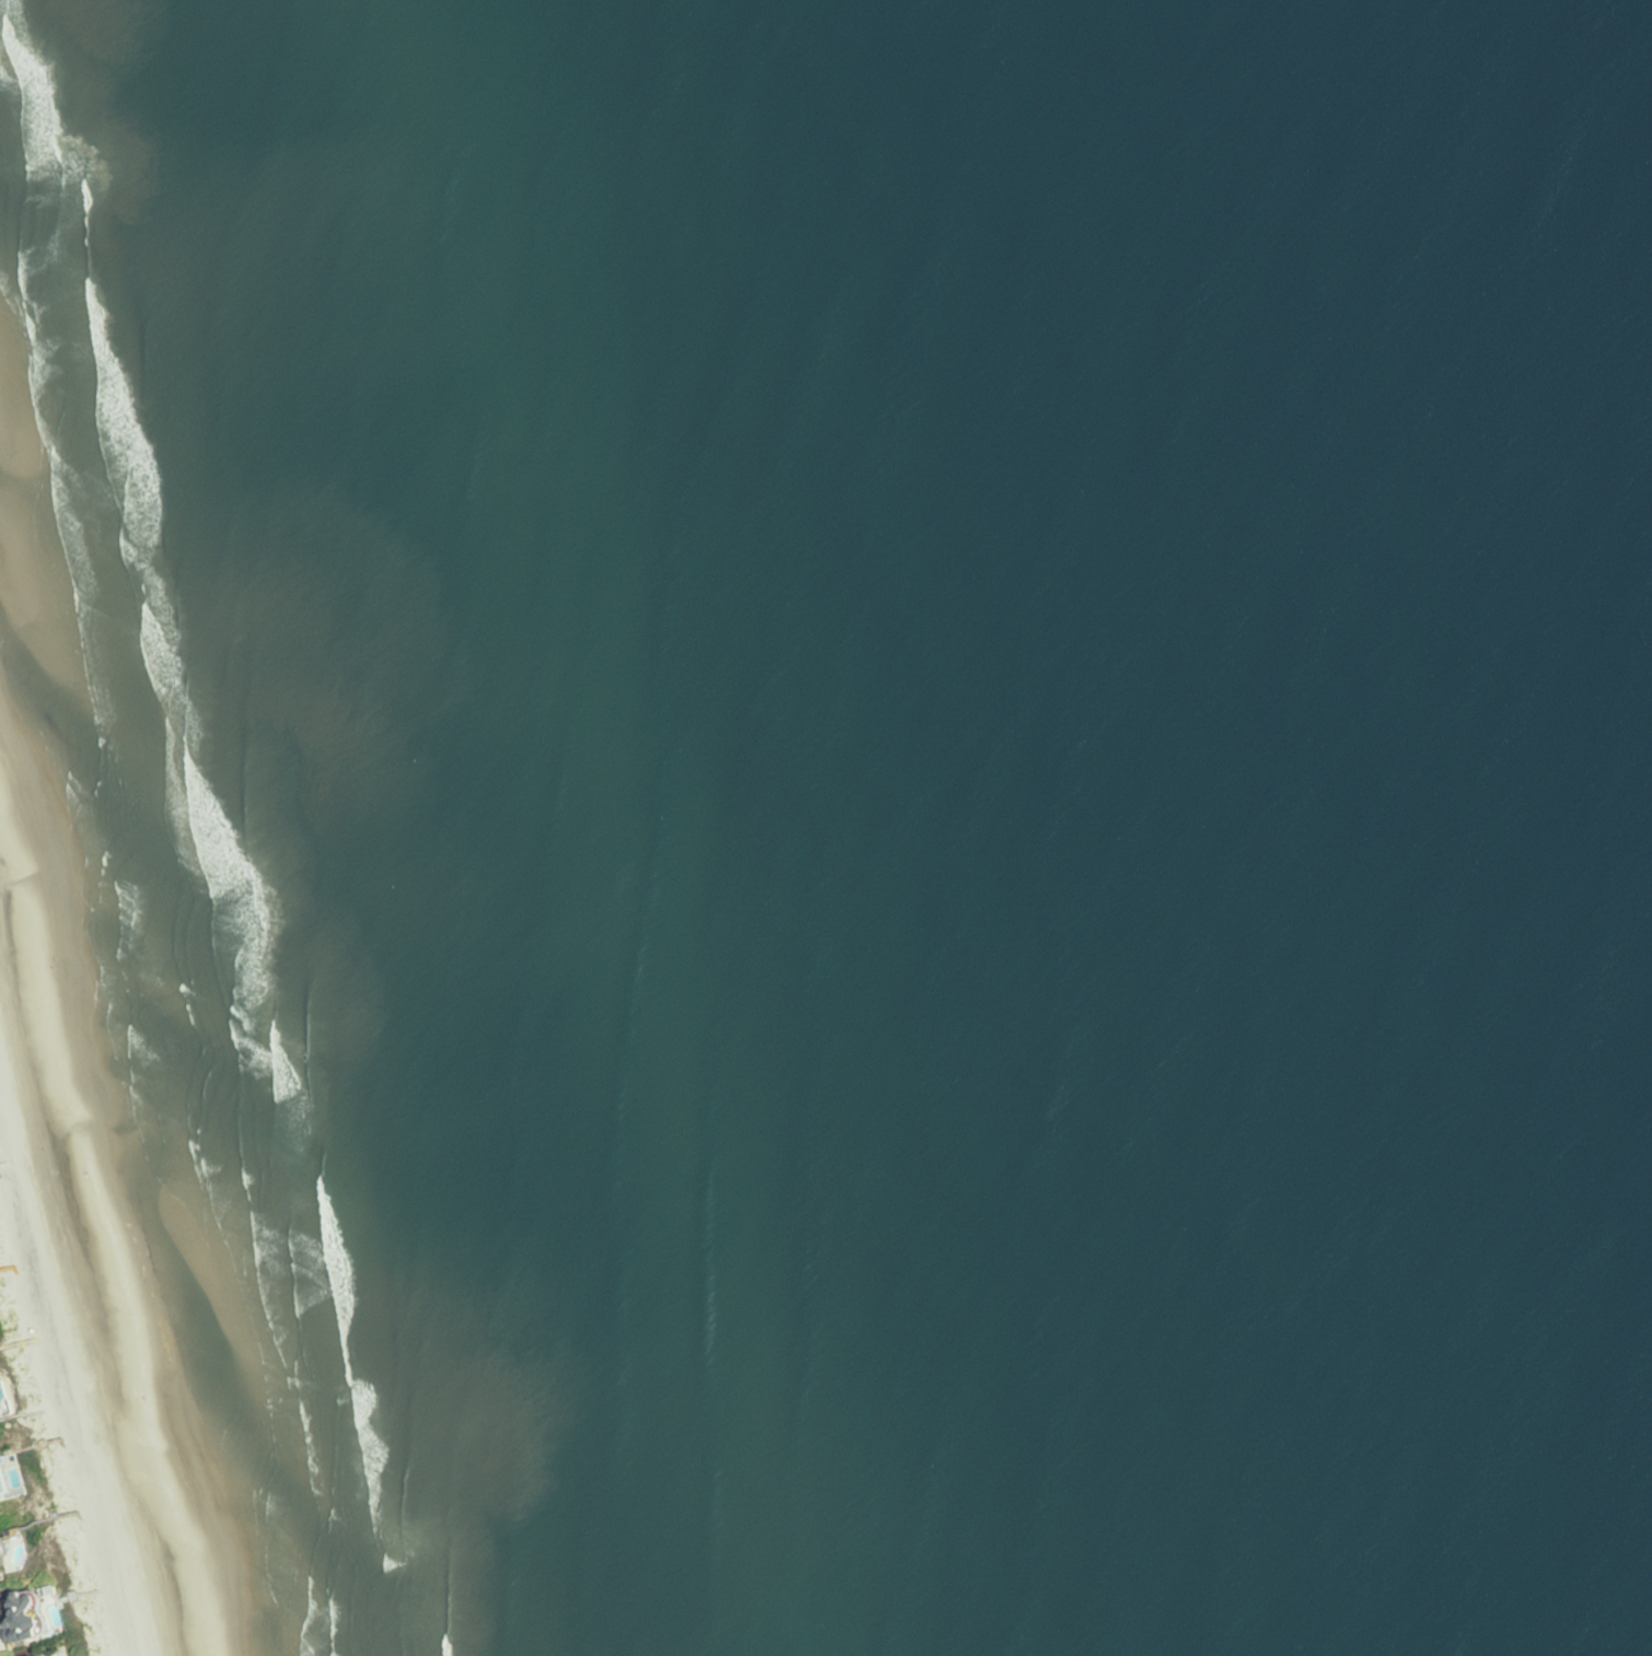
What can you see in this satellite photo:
road: (19, 1344)
building: (0, 1421)
building: (8, 1478)
building: (4, 1552)
building: (33, 1618)

